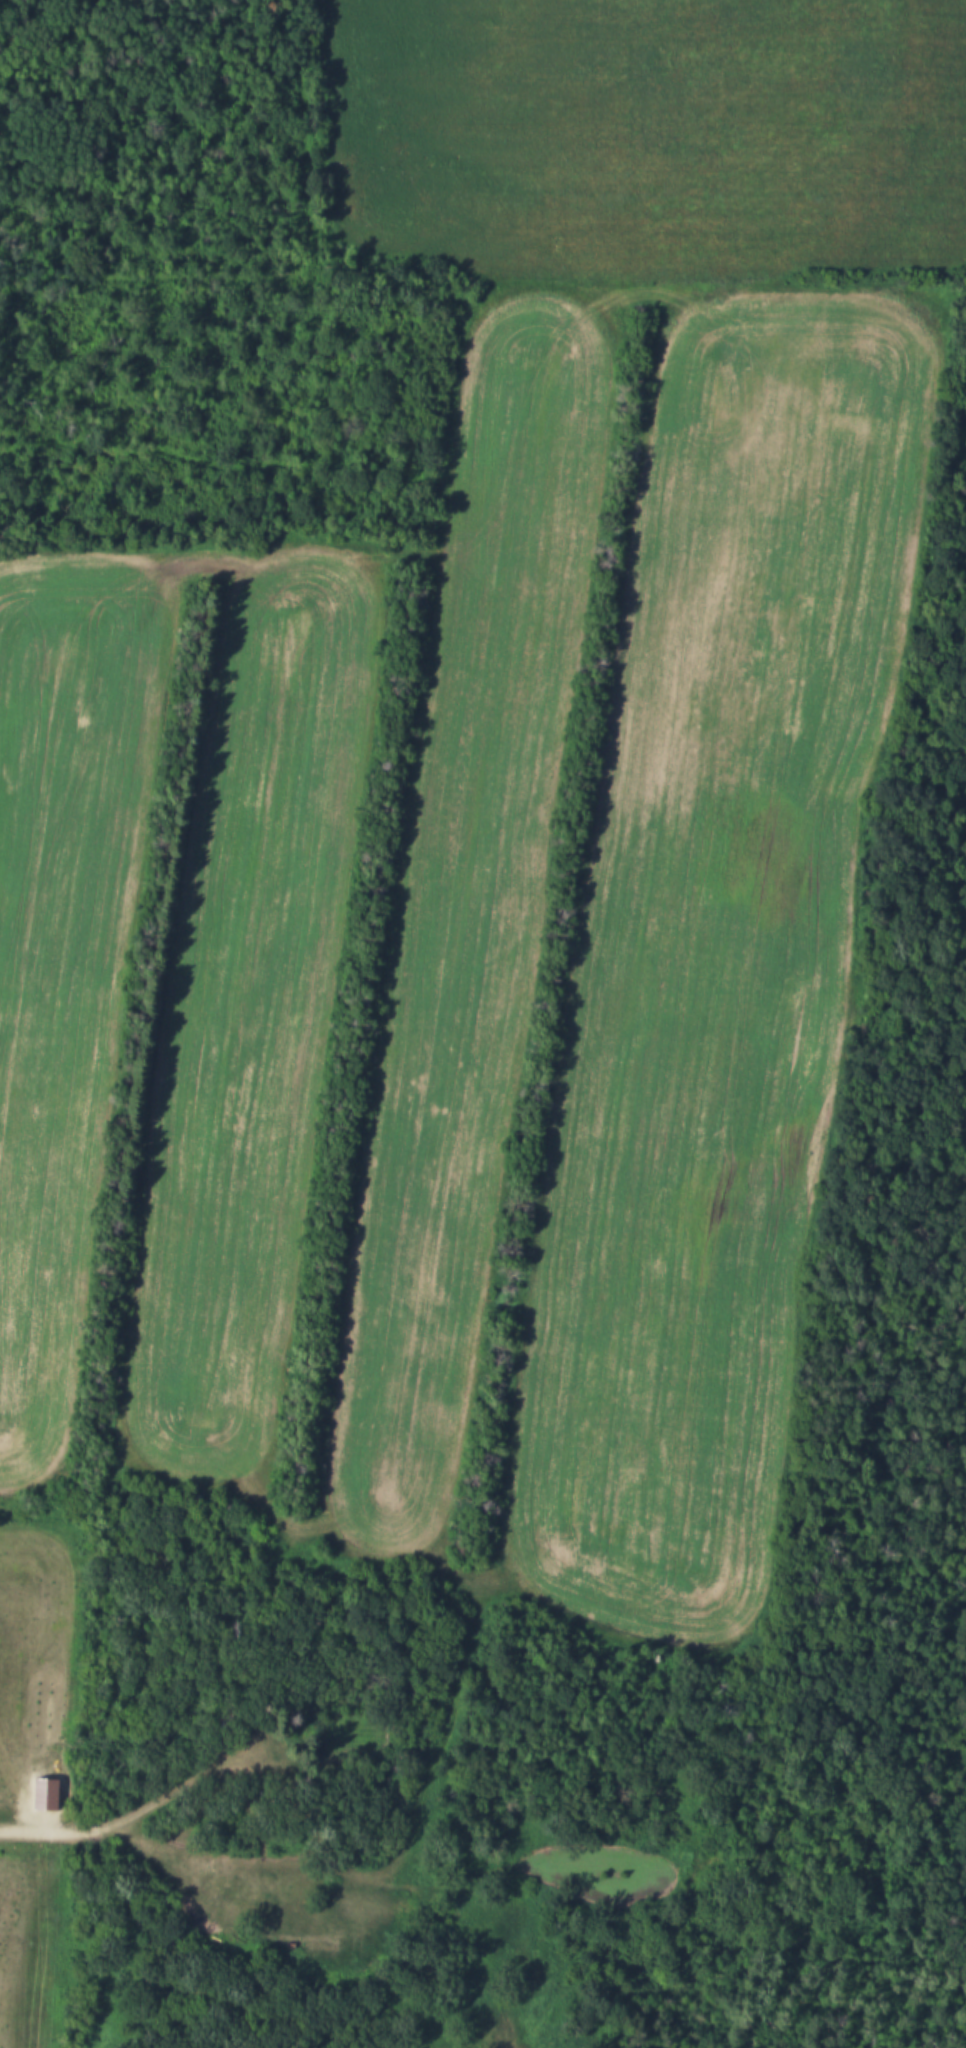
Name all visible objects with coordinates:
road: (124, 1809)

